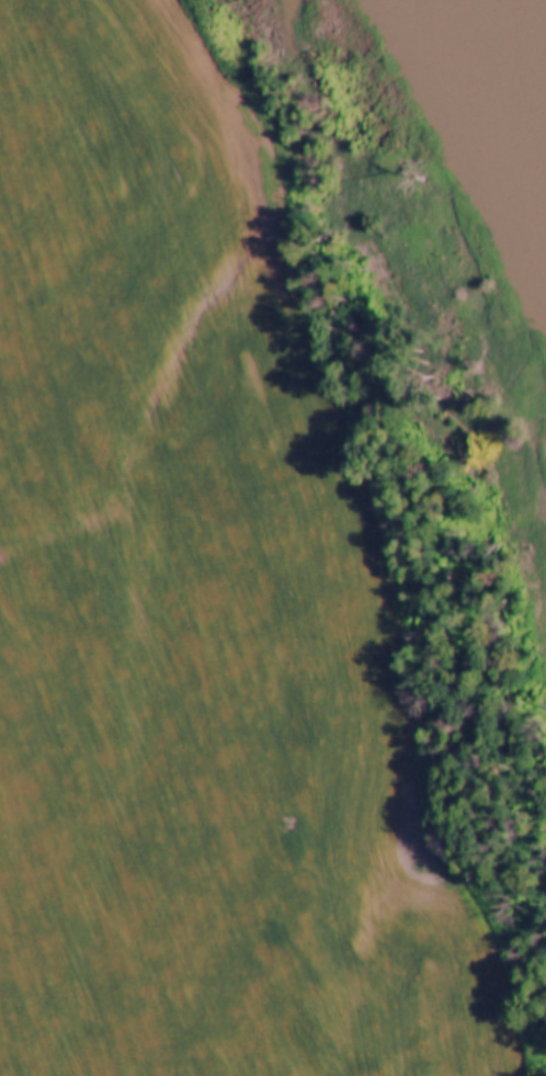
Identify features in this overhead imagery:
river: (507, 49)

